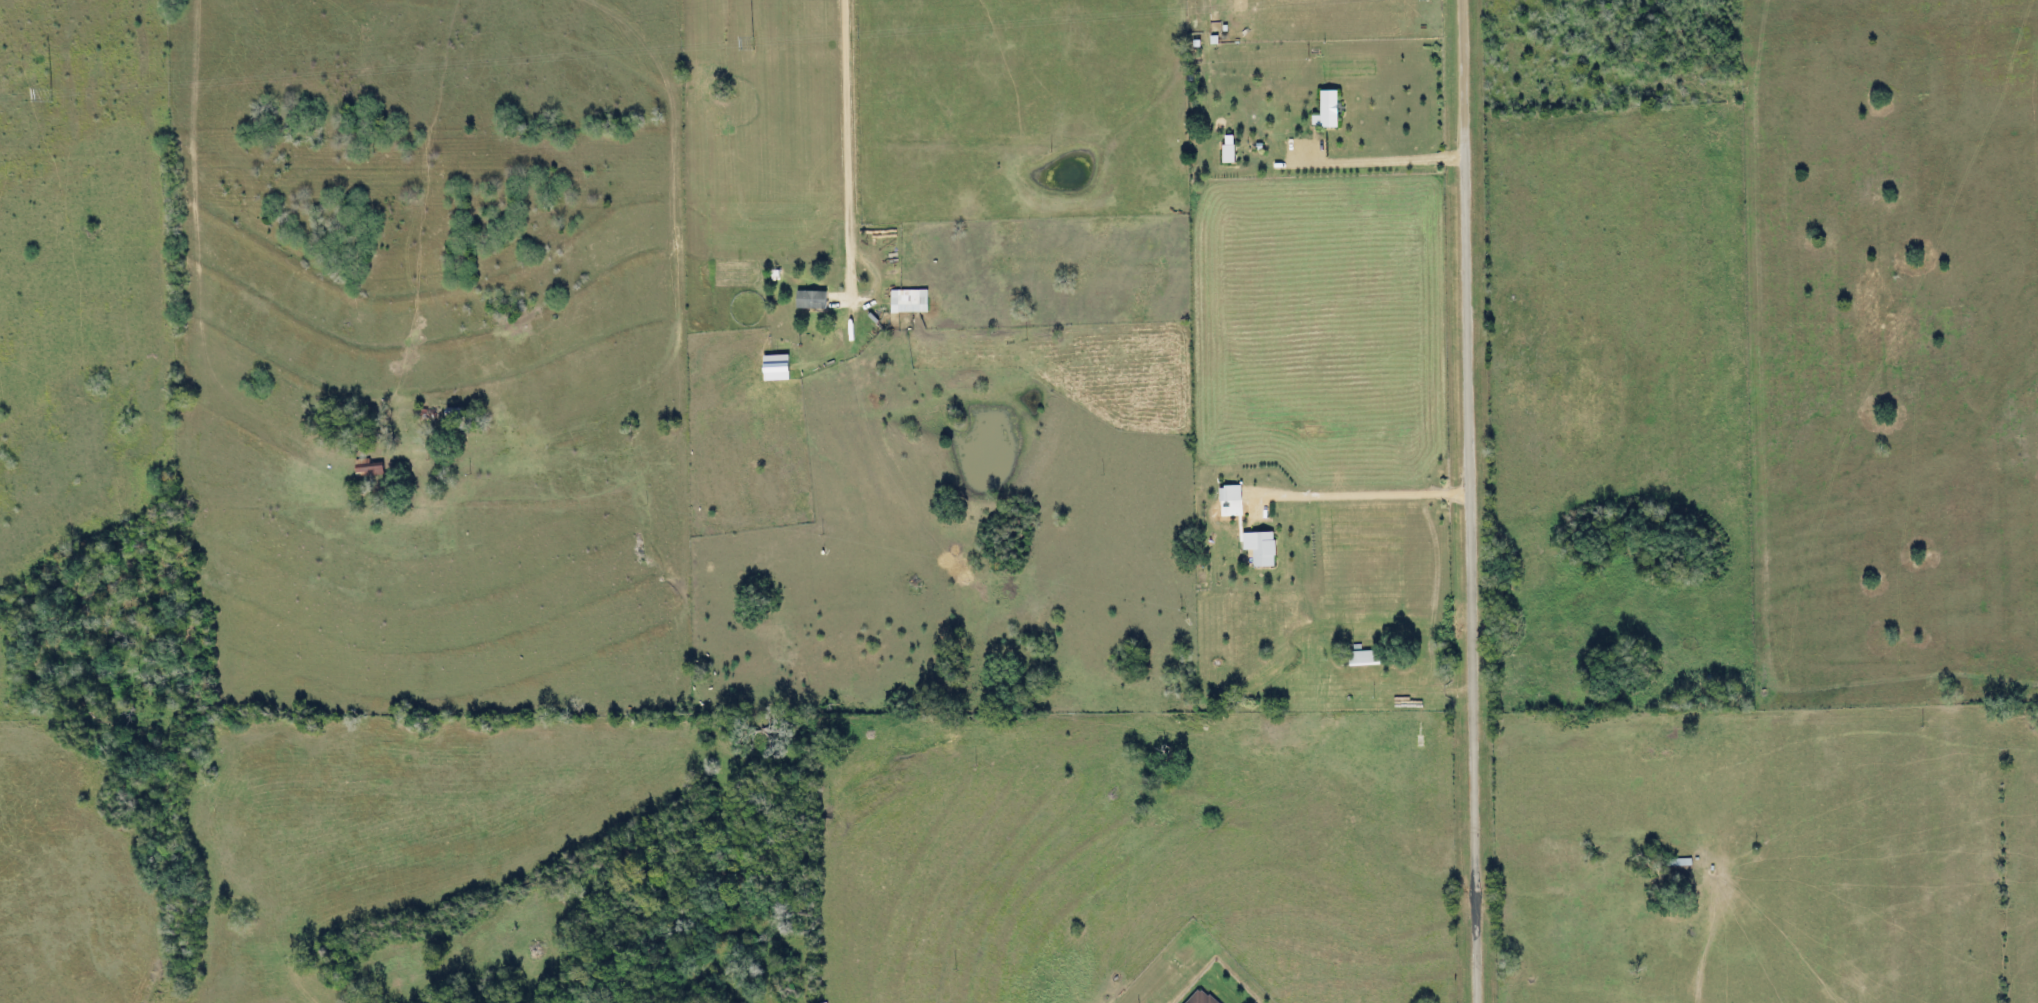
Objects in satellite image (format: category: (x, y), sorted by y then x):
power tower: (755, 43)
power tower: (52, 94)
building: (817, 299)
building: (917, 301)
building: (460, 414)
road: (1471, 501)
building: (1350, 657)
building: (1672, 862)
building: (1190, 998)

